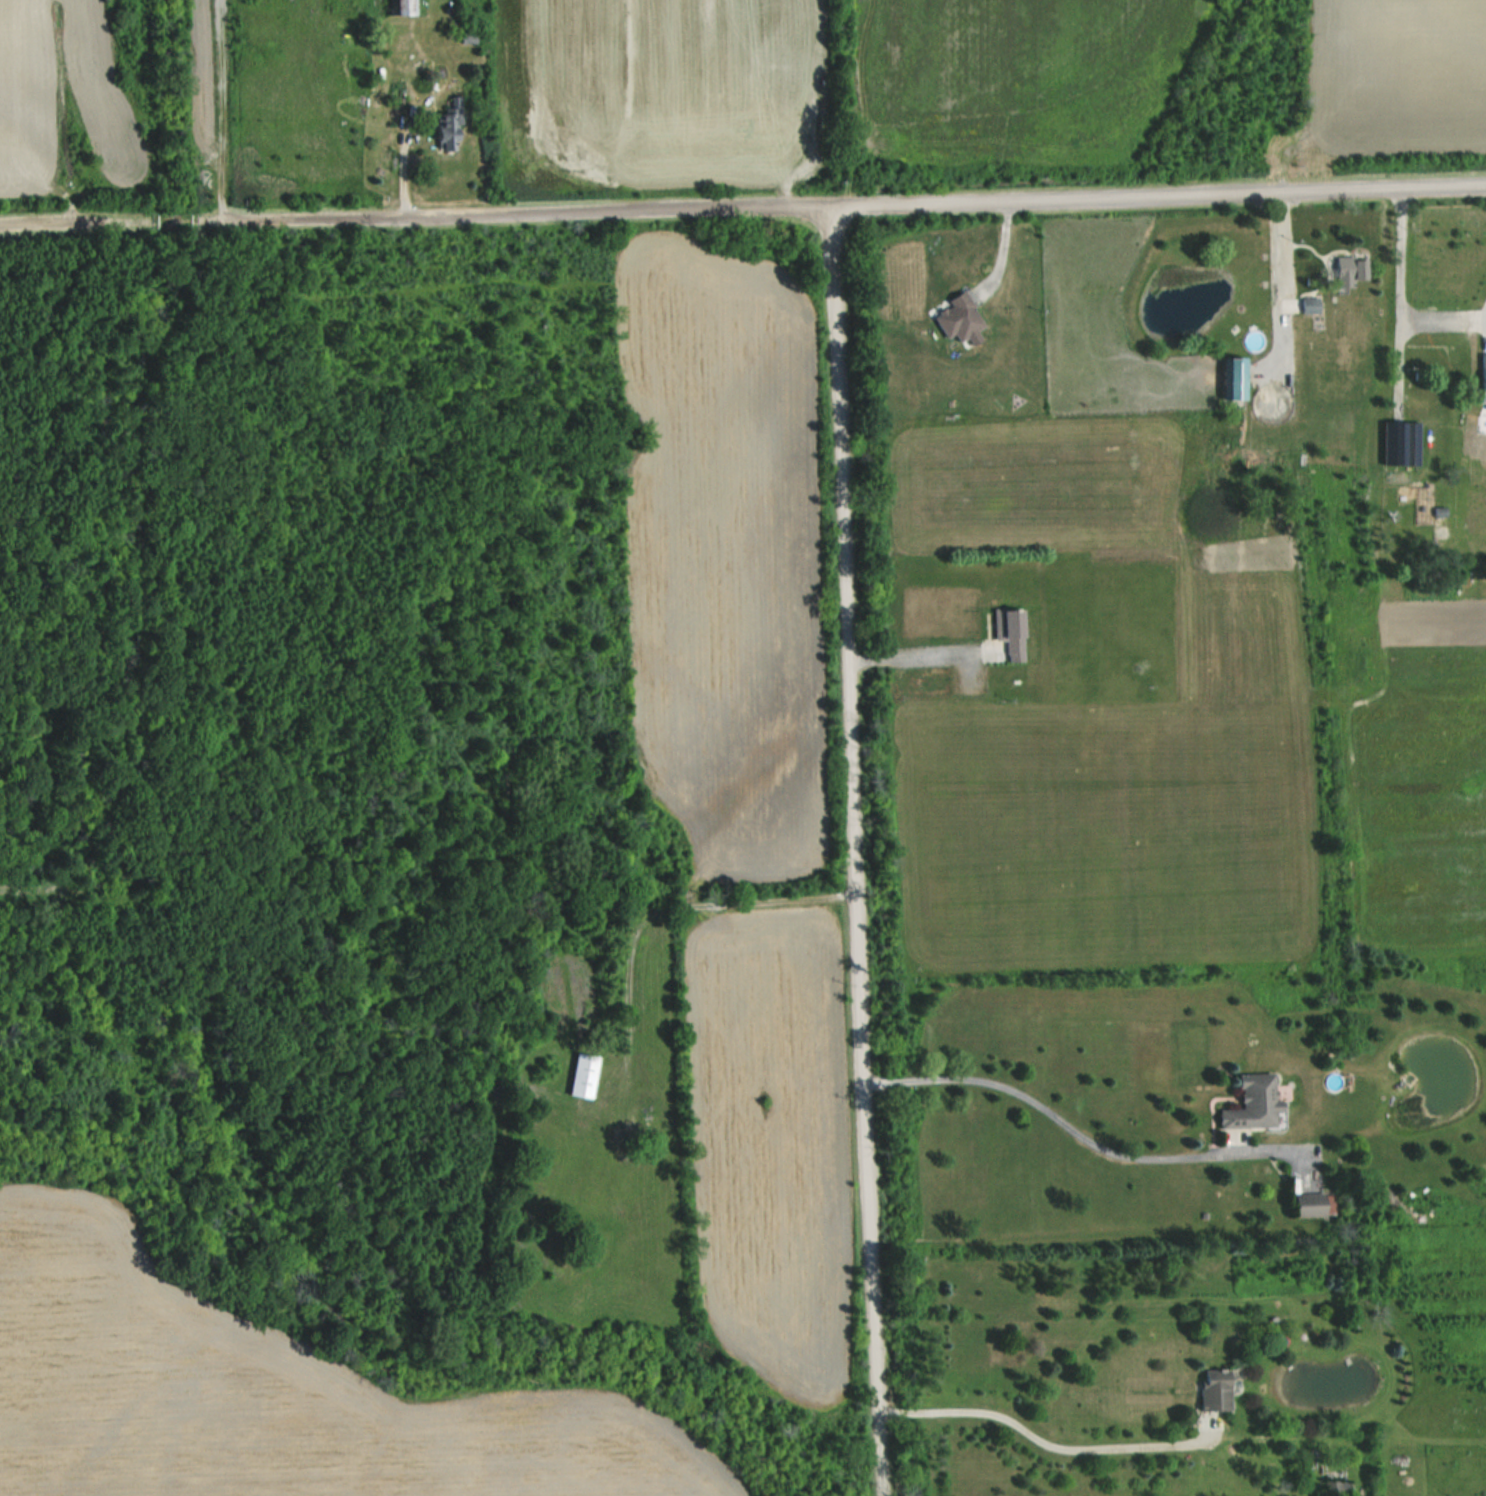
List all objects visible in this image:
building: (402, 7)
building: (449, 124)
road: (842, 208)
road: (73, 224)
road: (1272, 244)
building: (1352, 268)
road: (1393, 295)
building: (1311, 305)
road: (1482, 310)
building: (960, 319)
building: (1484, 373)
building: (1234, 379)
building: (1008, 632)
road: (917, 657)
road: (852, 852)
building: (585, 1075)
building: (1252, 1103)
road: (1079, 1131)
building: (1307, 1204)
building: (1212, 1389)
road: (1041, 1441)
building: (1335, 1488)

